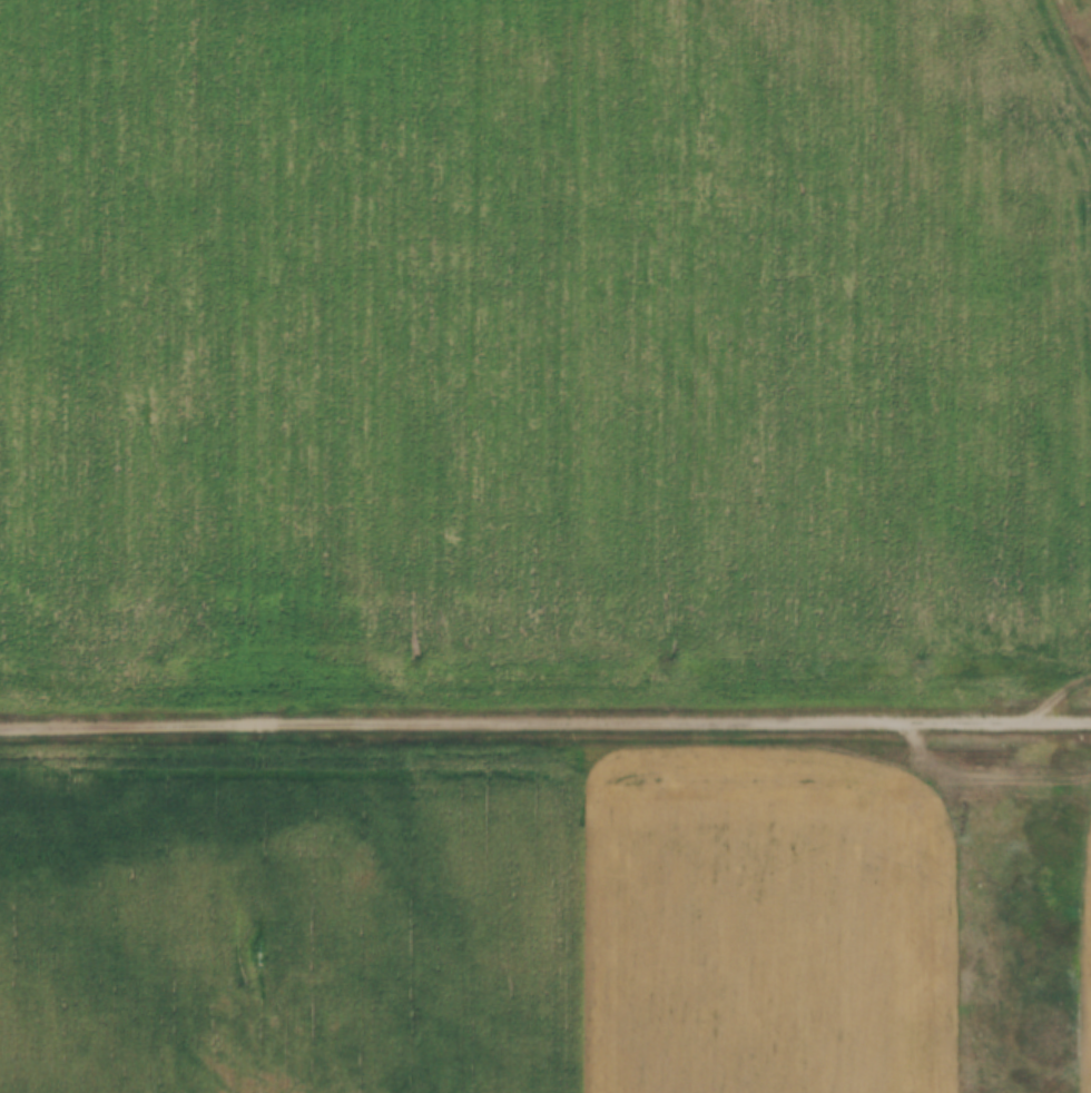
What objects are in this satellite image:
road: (545, 725)

